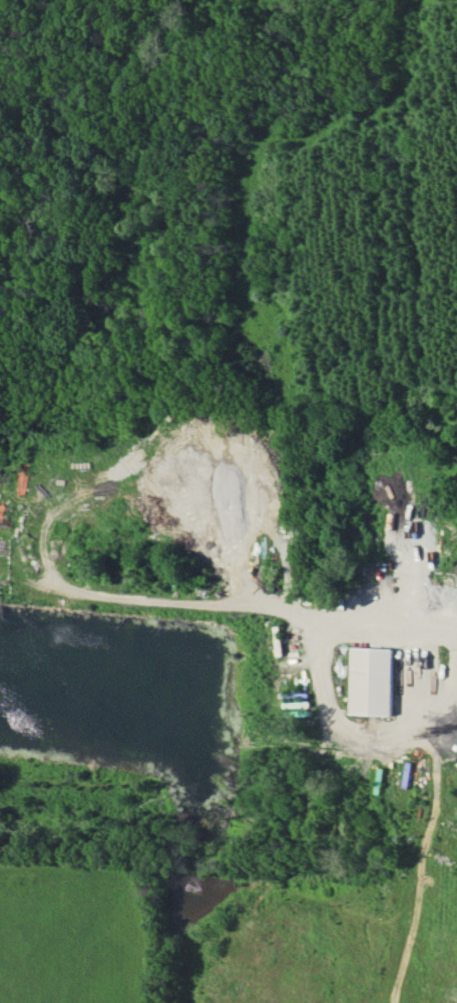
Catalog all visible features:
airport: (29, 4)
road: (268, 597)
building: (372, 680)
road: (355, 734)
airport: (77, 930)

